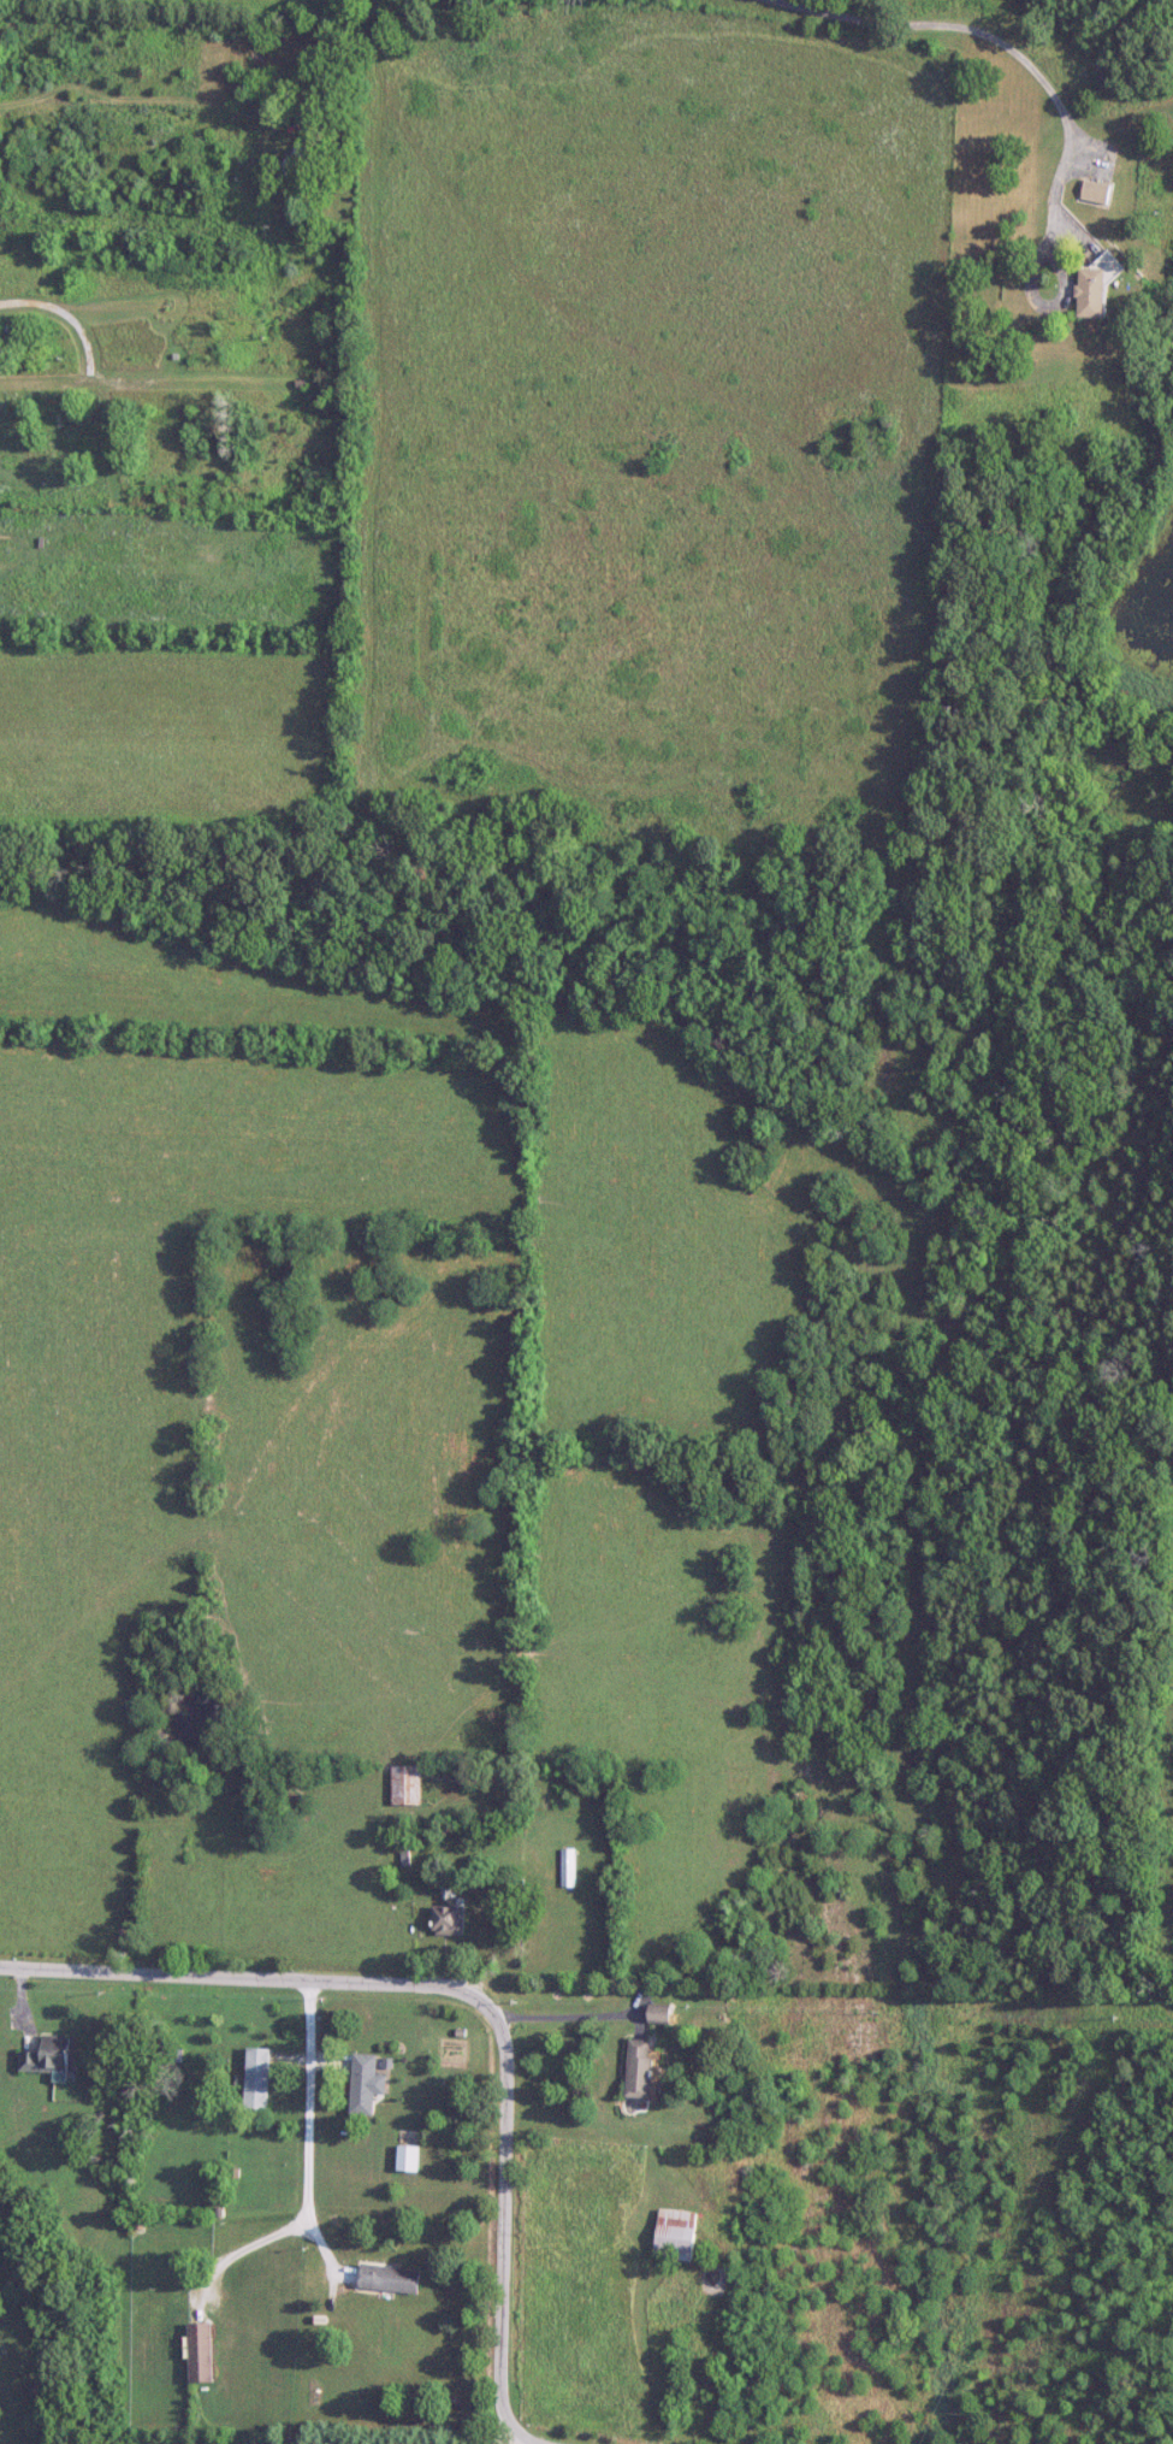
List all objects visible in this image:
road: (1005, 48)
building: (300, 152)
building: (1090, 293)
road: (129, 308)
road: (72, 319)
building: (231, 327)
building: (13, 342)
road: (128, 388)
building: (202, 427)
building: (248, 432)
building: (405, 1787)
building: (568, 1870)
building: (448, 1921)
road: (463, 2000)
building: (658, 2015)
road: (588, 2029)
building: (48, 2055)
building: (638, 2070)
building: (259, 2078)
building: (367, 2083)
building: (409, 2157)
road: (310, 2170)
building: (677, 2235)
building: (391, 2278)
building: (201, 2351)

